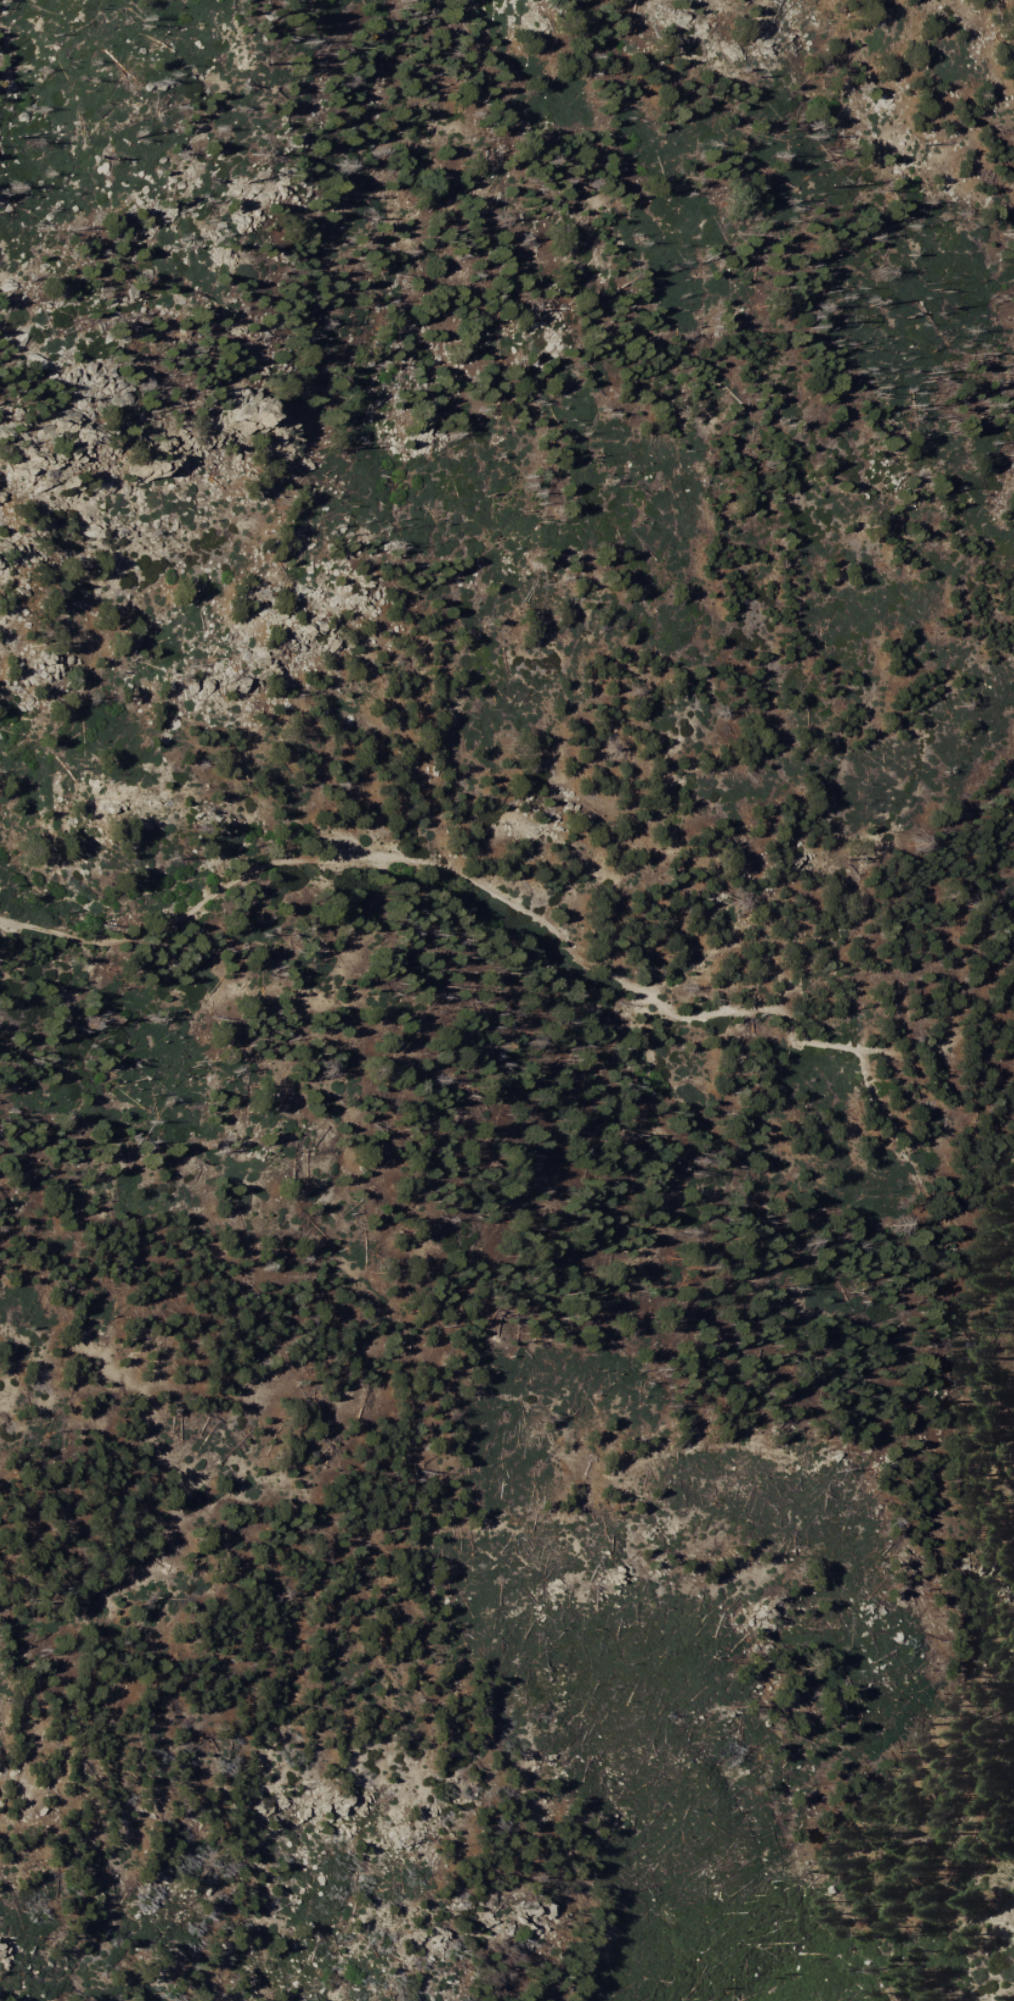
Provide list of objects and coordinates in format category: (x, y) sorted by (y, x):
road: (332, 859)
road: (832, 1044)

